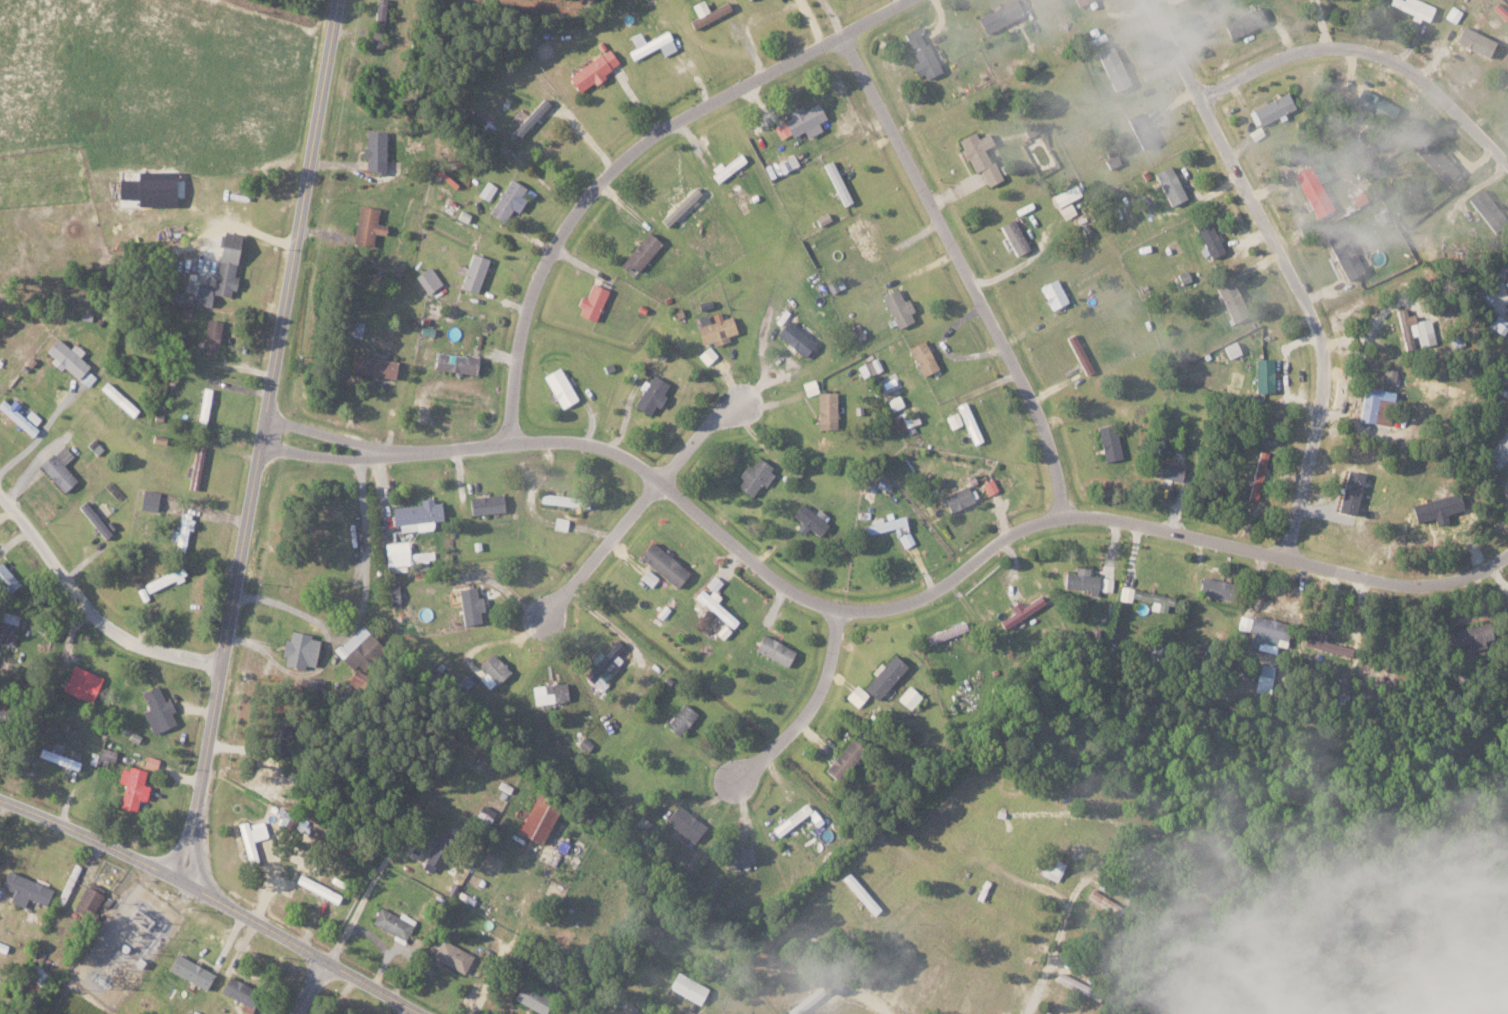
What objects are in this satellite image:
building: (1079, 1)
building: (1414, 8)
building: (1500, 10)
building: (706, 12)
building: (1453, 14)
building: (999, 15)
building: (1244, 22)
building: (377, 23)
building: (1474, 40)
building: (650, 44)
building: (920, 53)
road: (1371, 53)
building: (1113, 67)
building: (592, 70)
building: (1372, 103)
building: (1272, 108)
building: (529, 118)
building: (801, 121)
building: (1031, 129)
building: (1141, 129)
building: (374, 151)
road: (631, 155)
building: (979, 155)
building: (1437, 160)
building: (1112, 161)
building: (787, 163)
building: (726, 167)
building: (837, 181)
building: (1170, 184)
building: (1313, 186)
building: (153, 191)
building: (1065, 196)
building: (1358, 198)
building: (507, 200)
building: (1484, 206)
building: (1067, 210)
building: (366, 225)
building: (1014, 236)
building: (861, 238)
building: (1208, 240)
building: (640, 252)
building: (1344, 253)
road: (1287, 267)
building: (220, 270)
road: (967, 270)
building: (472, 273)
building: (1181, 277)
building: (835, 285)
building: (1053, 293)
building: (174, 296)
building: (1232, 300)
building: (591, 302)
building: (898, 308)
building: (1498, 323)
building: (714, 327)
building: (355, 328)
building: (1416, 328)
building: (857, 332)
building: (210, 336)
building: (794, 338)
building: (1231, 349)
building: (1079, 353)
building: (706, 354)
building: (65, 357)
building: (922, 357)
building: (454, 362)
building: (373, 365)
building: (1389, 374)
building: (1263, 375)
building: (86, 378)
building: (559, 387)
building: (809, 387)
building: (651, 394)
building: (118, 399)
building: (894, 403)
building: (1370, 403)
building: (203, 407)
building: (826, 410)
building: (16, 416)
building: (903, 419)
building: (954, 419)
road: (326, 435)
road: (40, 437)
road: (264, 439)
building: (1108, 441)
building: (1499, 451)
building: (194, 467)
building: (58, 468)
building: (1166, 470)
building: (1257, 475)
building: (754, 476)
building: (990, 486)
building: (1350, 492)
building: (958, 498)
building: (148, 500)
building: (564, 500)
building: (485, 504)
building: (1436, 506)
road: (640, 508)
building: (417, 515)
building: (93, 519)
building: (810, 519)
building: (560, 523)
building: (886, 525)
building: (182, 531)
building: (906, 539)
building: (405, 555)
building: (663, 564)
building: (648, 577)
building: (163, 579)
building: (6, 580)
building: (1080, 580)
building: (713, 583)
building: (1106, 584)
building: (1216, 588)
building: (1014, 593)
building: (393, 594)
building: (1147, 598)
road: (365, 601)
building: (469, 605)
building: (714, 605)
road: (93, 608)
road: (878, 608)
building: (1022, 610)
building: (6, 632)
building: (1467, 636)
building: (1327, 646)
building: (356, 647)
building: (298, 650)
building: (773, 650)
building: (605, 665)
building: (492, 670)
building: (884, 677)
building: (1265, 678)
building: (81, 683)
building: (310, 684)
building: (549, 693)
building: (856, 695)
building: (909, 697)
road: (808, 709)
building: (156, 710)
building: (680, 719)
building: (276, 739)
building: (74, 754)
building: (844, 759)
building: (150, 762)
building: (131, 788)
building: (538, 818)
building: (791, 820)
building: (685, 823)
building: (250, 837)
road: (94, 838)
building: (738, 857)
building: (1052, 864)
road: (1022, 879)
building: (23, 889)
building: (319, 889)
building: (859, 892)
building: (88, 901)
road: (362, 901)
building: (1104, 901)
building: (393, 923)
power substation: (124, 944)
road: (1055, 944)
road: (304, 947)
road: (384, 947)
building: (1387, 947)
building: (451, 956)
road: (409, 964)
building: (189, 972)
building: (32, 978)
building: (1071, 982)
road: (1434, 983)
road: (312, 987)
building: (687, 988)
building: (235, 990)
road: (1465, 994)
road: (866, 996)
building: (531, 999)
building: (807, 1001)

